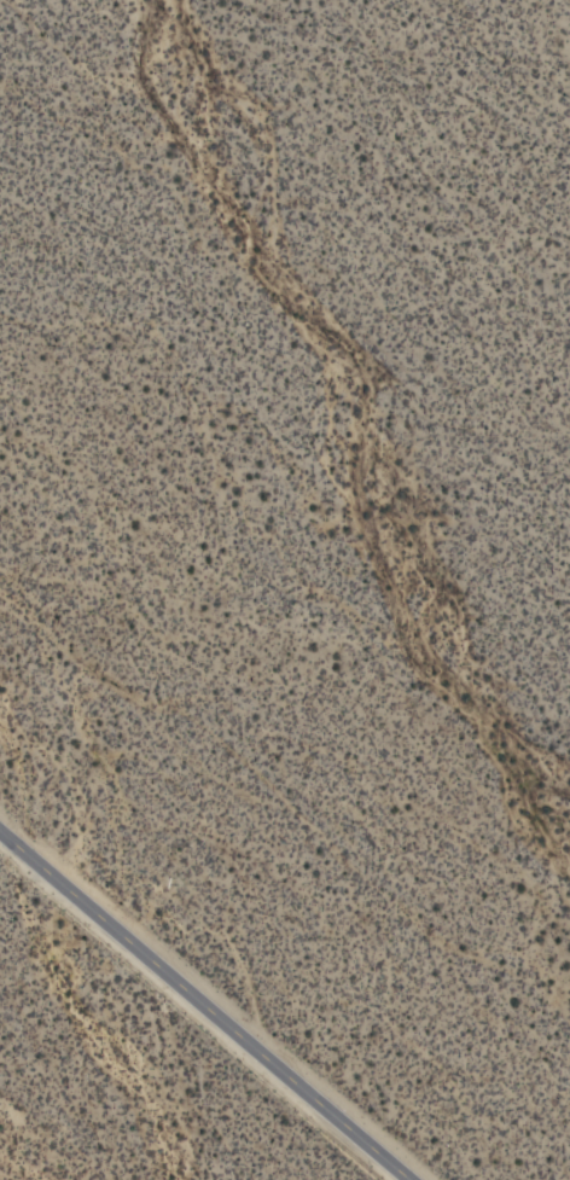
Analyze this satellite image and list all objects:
road: (204, 1007)

